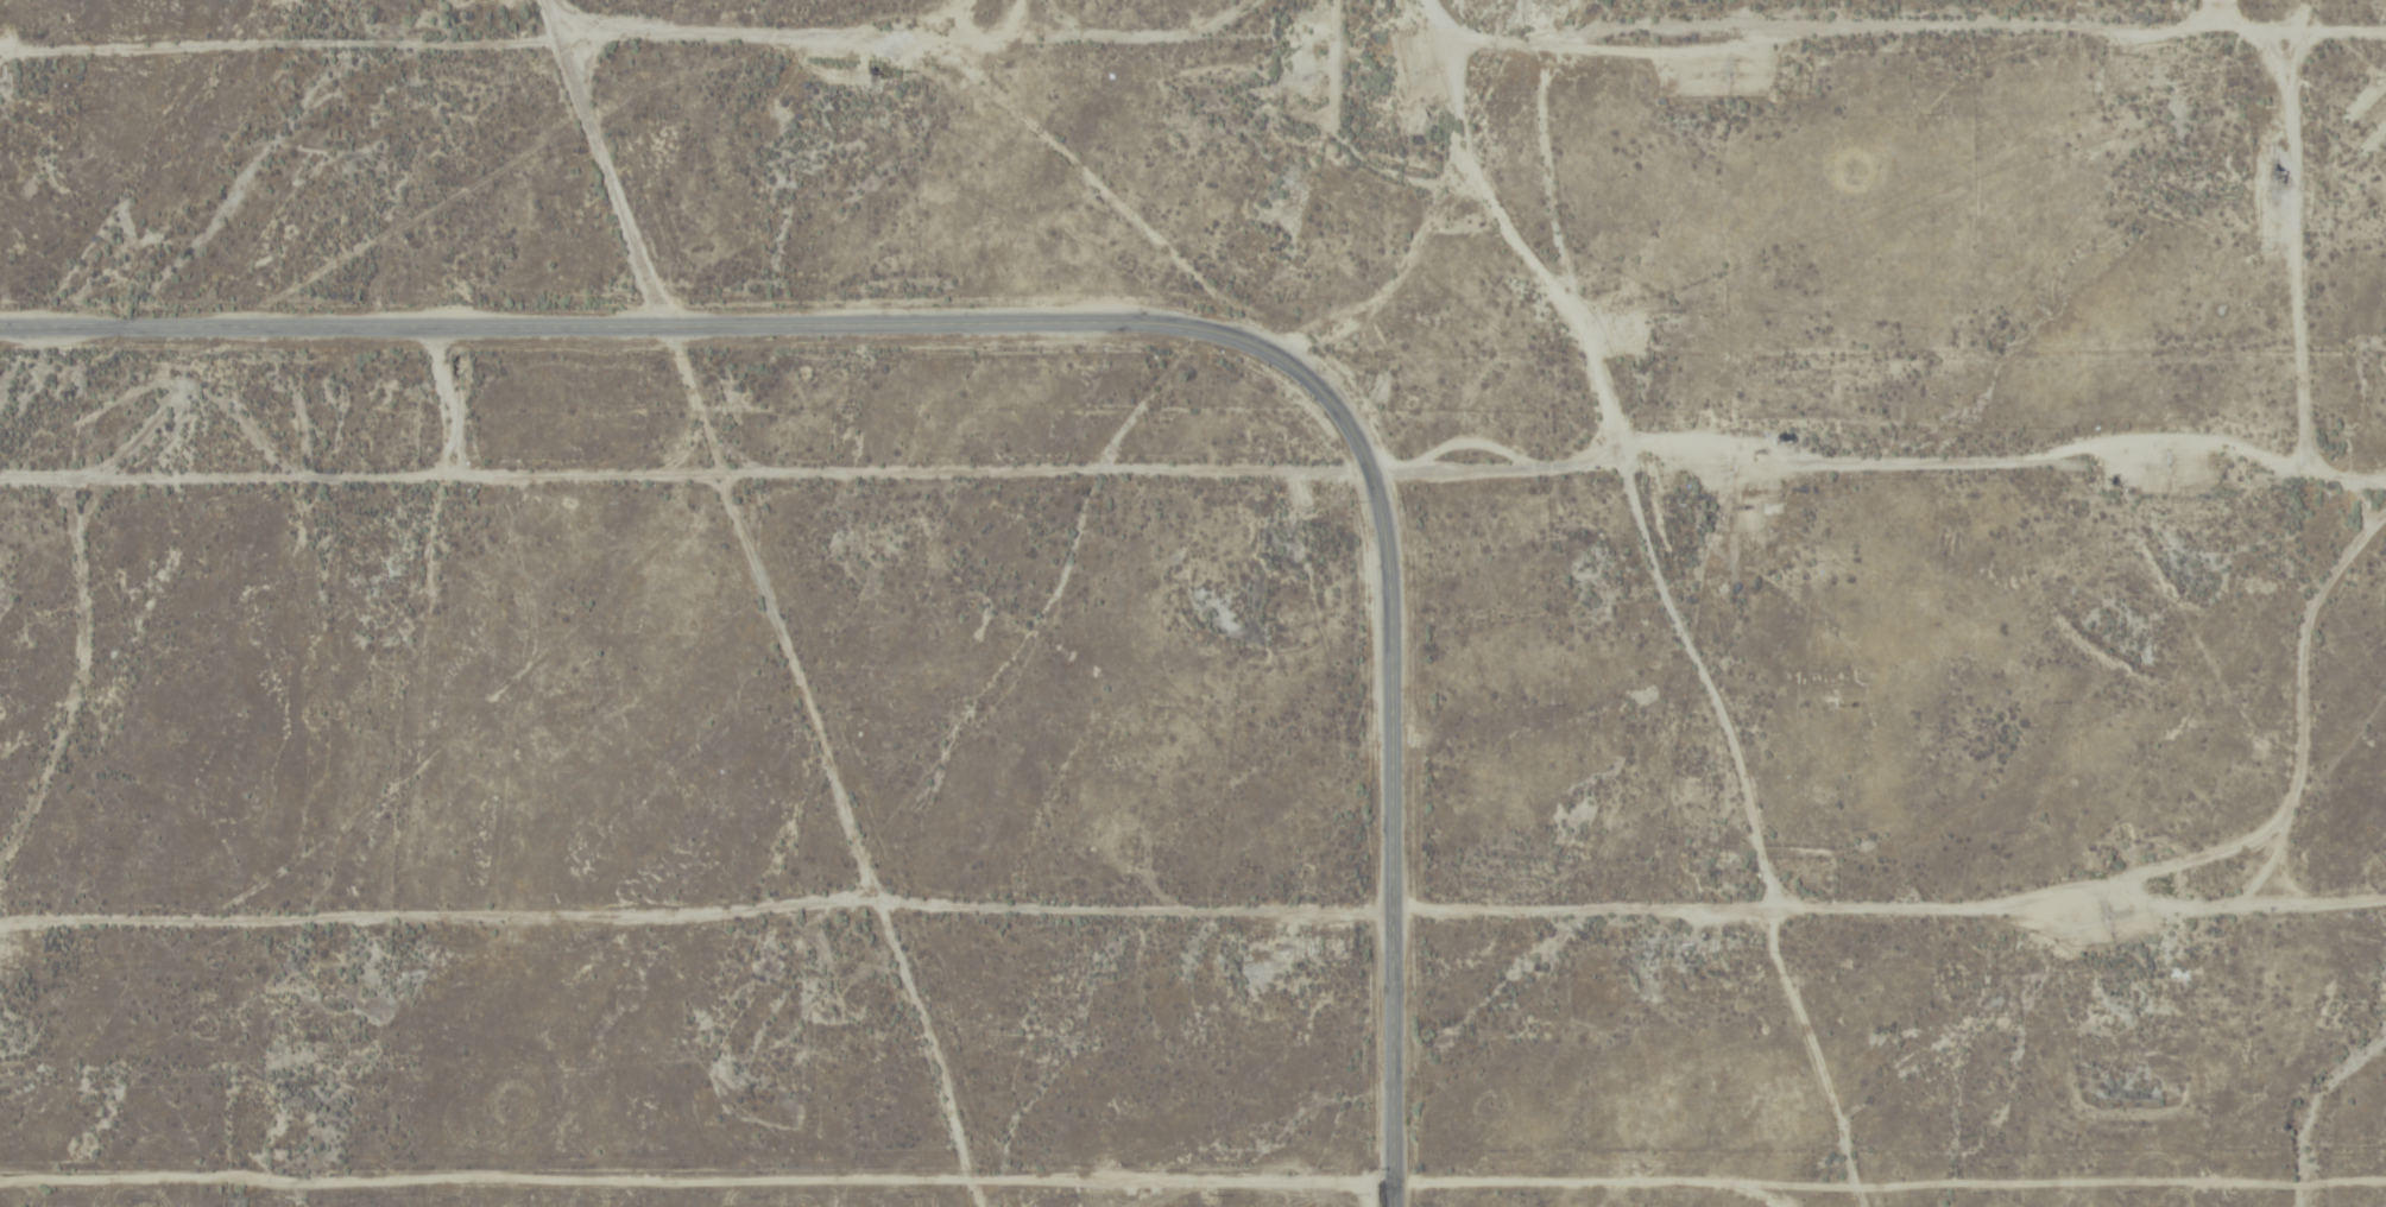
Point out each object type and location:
road: (1085, 309)

